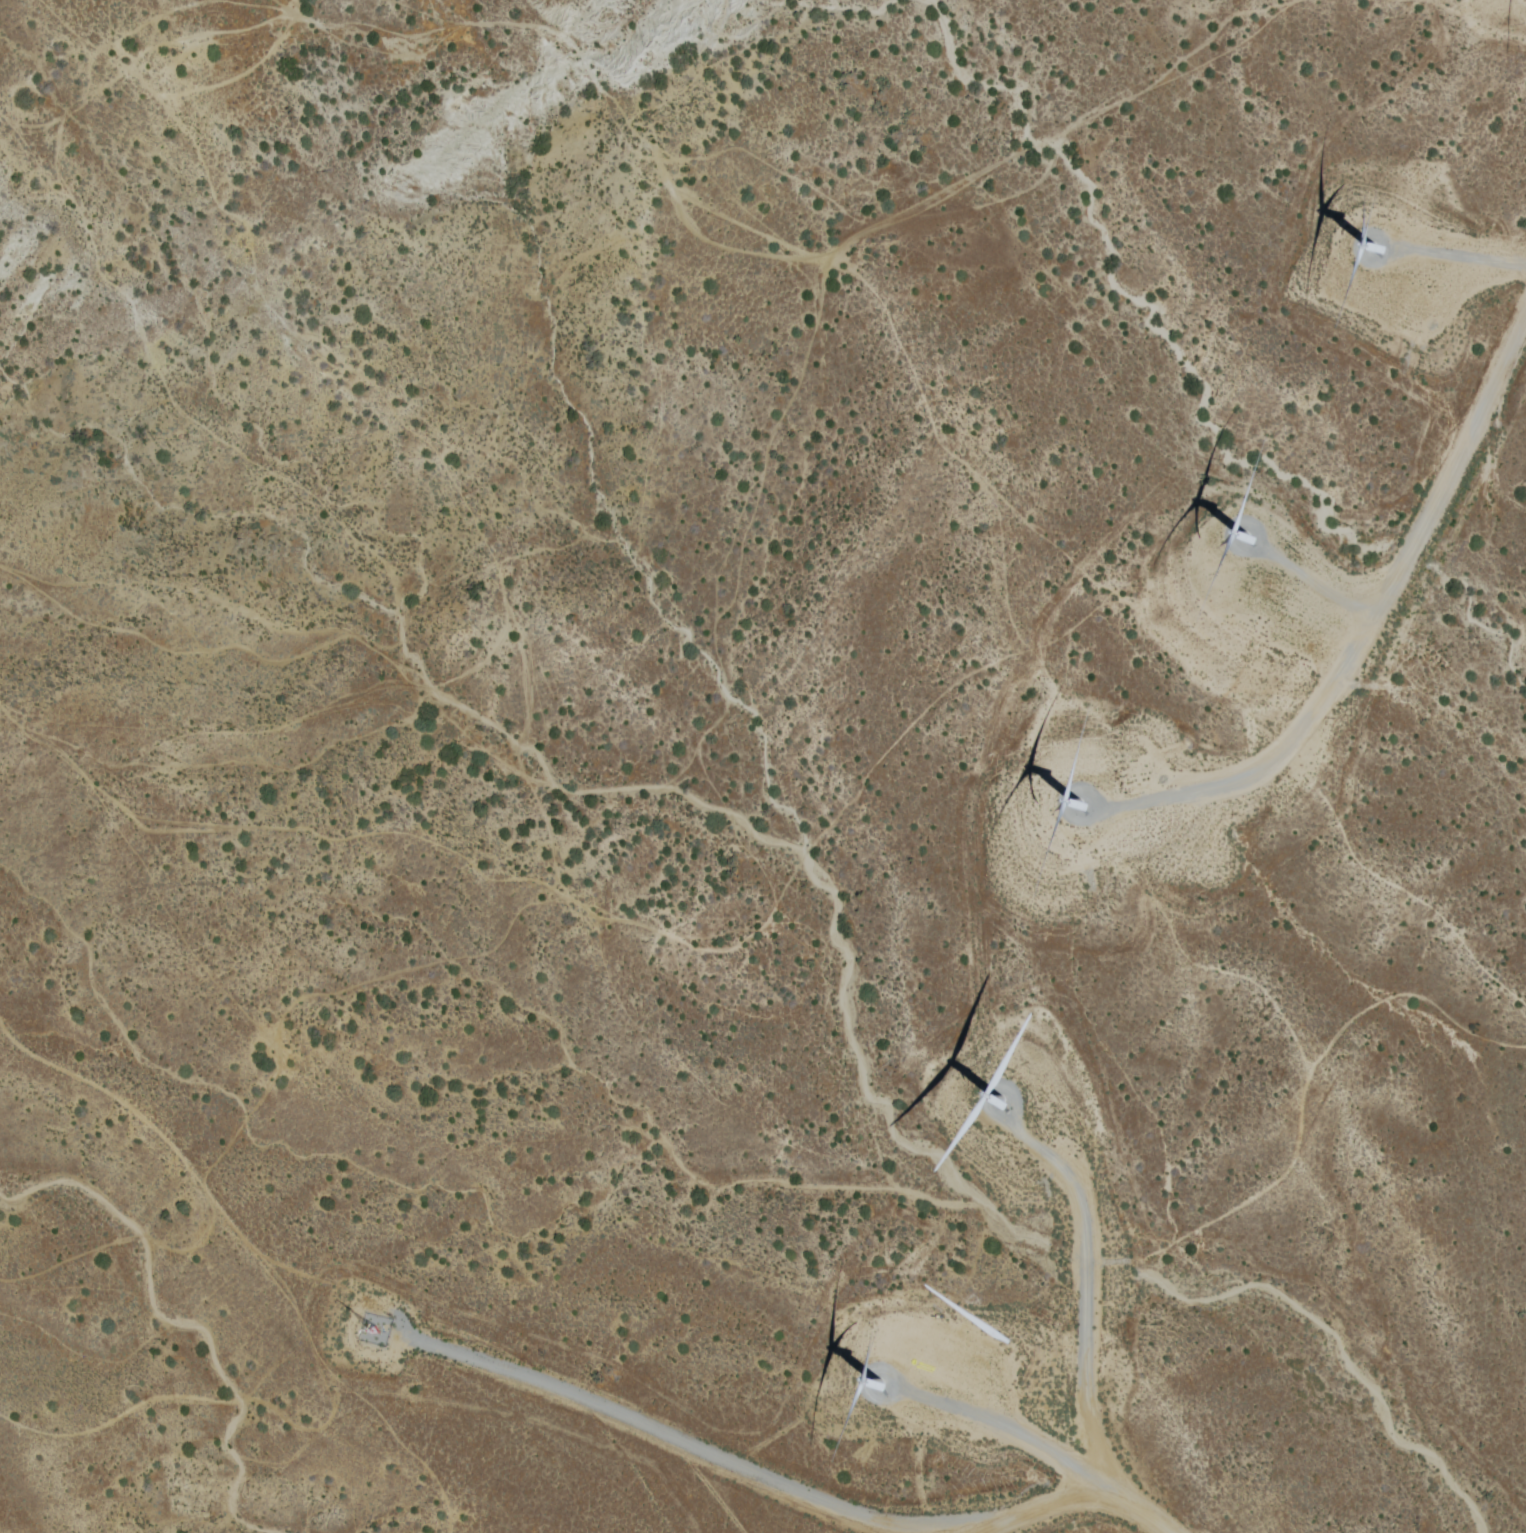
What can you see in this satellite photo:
wind turbine: (1360, 271)
wind turbine: (1236, 559)
wind turbine: (1072, 807)
wind turbine: (1016, 1091)
wind turbine: (876, 1391)

